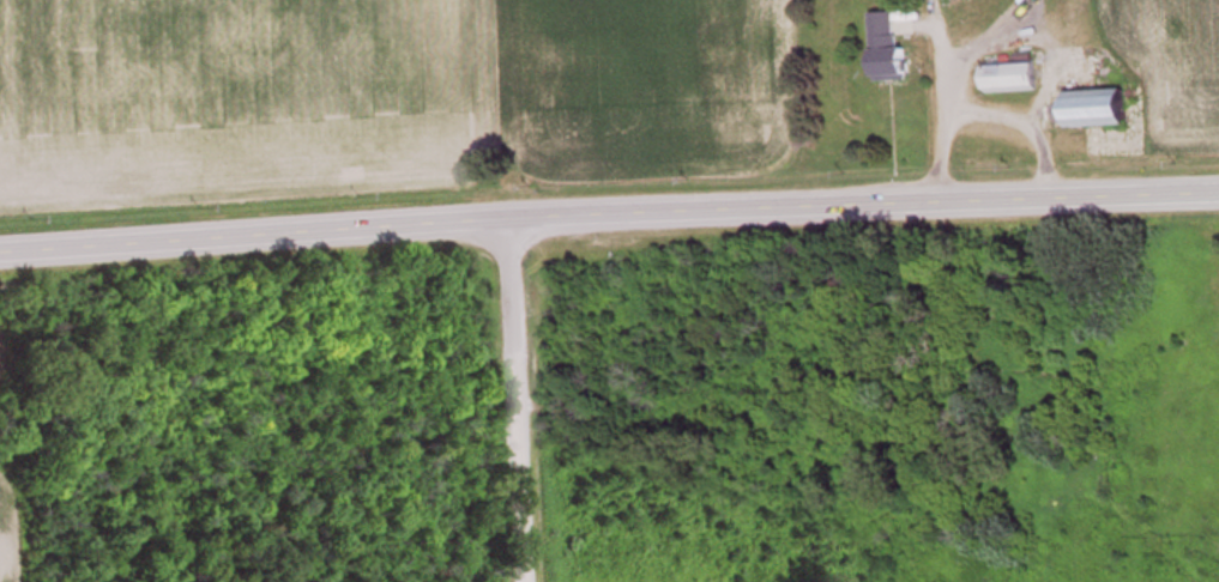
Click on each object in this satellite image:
building: (888, 51)
building: (1009, 80)
building: (1096, 111)
road: (609, 211)
road: (508, 399)

